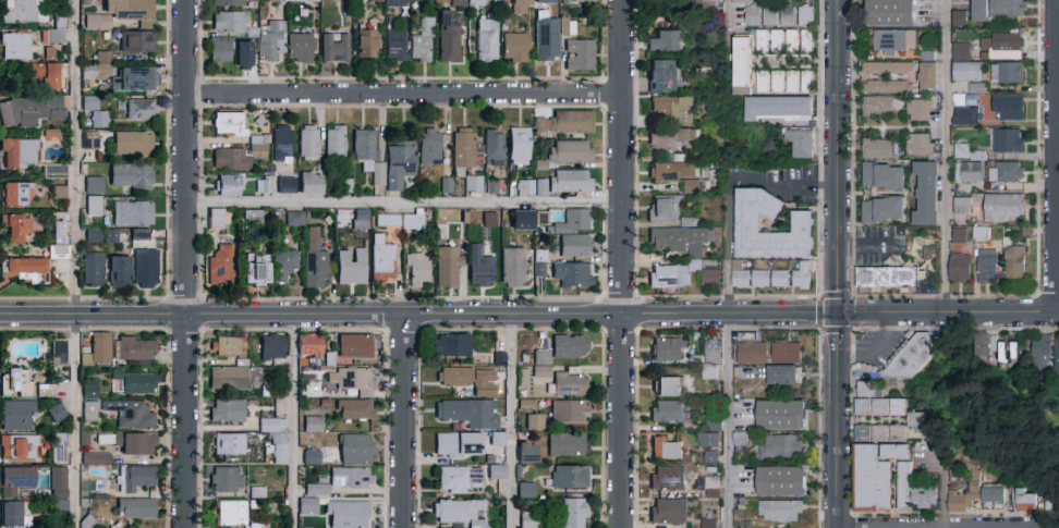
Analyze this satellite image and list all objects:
building: (374, 0)
building: (441, 1)
building: (577, 1)
building: (235, 2)
building: (393, 2)
building: (457, 2)
building: (541, 2)
building: (476, 4)
building: (709, 4)
building: (522, 7)
building: (1008, 9)
building: (21, 11)
building: (981, 11)
building: (751, 12)
building: (122, 13)
road: (728, 13)
building: (891, 13)
building: (806, 15)
building: (779, 16)
building: (960, 20)
building: (230, 22)
building: (394, 23)
building: (53, 35)
building: (450, 36)
building: (487, 40)
building: (544, 40)
building: (137, 41)
building: (666, 41)
building: (762, 41)
building: (777, 41)
building: (799, 41)
building: (271, 42)
building: (422, 42)
building: (893, 42)
building: (367, 44)
building: (16, 46)
building: (397, 46)
building: (1002, 47)
building: (301, 48)
building: (336, 48)
building: (515, 48)
building: (220, 50)
building: (48, 52)
building: (960, 52)
building: (244, 54)
building: (579, 56)
building: (742, 64)
building: (97, 67)
building: (887, 69)
building: (967, 72)
building: (1006, 74)
building: (48, 75)
building: (664, 76)
building: (928, 77)
building: (137, 78)
building: (769, 82)
building: (800, 82)
building: (885, 87)
road: (401, 91)
building: (877, 106)
building: (1008, 107)
building: (141, 109)
building: (779, 109)
building: (674, 110)
building: (918, 110)
building: (29, 111)
building: (96, 112)
building: (966, 116)
building: (230, 123)
building: (563, 123)
road: (837, 123)
building: (669, 138)
building: (90, 140)
building: (336, 142)
building: (1009, 142)
building: (133, 143)
building: (308, 143)
building: (800, 143)
building: (282, 144)
building: (520, 145)
building: (918, 145)
building: (430, 146)
building: (495, 147)
building: (464, 149)
building: (877, 149)
building: (571, 152)
building: (965, 152)
building: (368, 154)
building: (20, 155)
building: (238, 155)
road: (944, 156)
road: (1055, 157)
building: (400, 164)
building: (56, 172)
building: (969, 172)
building: (1006, 172)
building: (675, 174)
building: (132, 176)
building: (882, 176)
building: (571, 182)
building: (312, 183)
building: (474, 183)
building: (287, 184)
road: (781, 184)
building: (94, 185)
building: (242, 185)
building: (496, 186)
building: (525, 187)
building: (59, 193)
building: (16, 194)
building: (926, 194)
road: (401, 204)
building: (95, 206)
building: (962, 206)
building: (662, 209)
building: (1002, 209)
building: (882, 210)
building: (133, 213)
building: (362, 216)
building: (218, 218)
building: (294, 219)
building: (388, 220)
building: (490, 220)
building: (411, 221)
building: (252, 222)
building: (574, 222)
building: (689, 222)
building: (748, 225)
building: (16, 229)
building: (60, 235)
building: (959, 236)
building: (680, 240)
building: (575, 245)
road: (866, 247)
building: (316, 260)
building: (381, 260)
building: (1015, 262)
road: (73, 263)
road: (184, 263)
road: (620, 263)
building: (221, 265)
building: (284, 265)
building: (538, 266)
building: (352, 267)
building: (448, 267)
building: (480, 267)
building: (987, 267)
building: (147, 268)
building: (514, 268)
building: (959, 268)
building: (94, 269)
building: (256, 269)
building: (418, 269)
building: (24, 270)
building: (120, 271)
building: (572, 274)
building: (669, 277)
building: (804, 277)
building: (713, 278)
building: (887, 278)
building: (752, 279)
building: (781, 279)
road: (837, 280)
traffic signals: (837, 314)
road: (948, 314)
road: (418, 315)
building: (452, 345)
building: (228, 346)
building: (311, 346)
building: (355, 346)
building: (986, 346)
building: (1011, 346)
building: (272, 347)
building: (570, 347)
building: (99, 348)
building: (137, 349)
building: (669, 349)
building: (1001, 351)
building: (1043, 351)
building: (59, 352)
building: (714, 352)
building: (753, 352)
building: (788, 352)
building: (1057, 354)
road: (727, 355)
building: (541, 356)
building: (540, 369)
building: (710, 372)
building: (864, 373)
building: (784, 376)
building: (229, 378)
building: (351, 379)
building: (468, 379)
building: (20, 382)
building: (134, 383)
building: (570, 384)
building: (667, 385)
building: (90, 391)
building: (876, 403)
building: (355, 409)
building: (228, 410)
building: (90, 412)
building: (571, 412)
building: (668, 412)
building: (58, 413)
building: (468, 413)
building: (131, 414)
building: (17, 415)
building: (781, 416)
road: (511, 420)
road: (836, 420)
road: (295, 421)
road: (401, 421)
building: (535, 421)
building: (916, 421)
building: (313, 425)
building: (275, 429)
building: (880, 434)
building: (741, 438)
building: (499, 439)
building: (707, 441)
building: (131, 442)
building: (231, 444)
building: (459, 444)
building: (58, 445)
building: (568, 445)
building: (16, 446)
building: (780, 447)
building: (356, 449)
building: (667, 449)
building: (95, 456)
building: (312, 457)
building: (710, 457)
building: (498, 472)
building: (874, 476)
building: (570, 477)
building: (138, 478)
building: (351, 478)
building: (667, 478)
building: (227, 479)
building: (15, 480)
building: (461, 480)
building: (59, 482)
building: (782, 482)
building: (711, 487)
building: (318, 490)
building: (526, 490)
building: (914, 491)
road: (942, 493)
building: (994, 496)
building: (964, 499)
building: (1026, 500)
building: (1052, 504)
building: (308, 506)
building: (136, 508)
building: (459, 512)
building: (668, 512)
building: (780, 512)
building: (231, 513)
building: (575, 513)
building: (13, 515)
building: (348, 515)
building: (528, 521)
building: (88, 523)

